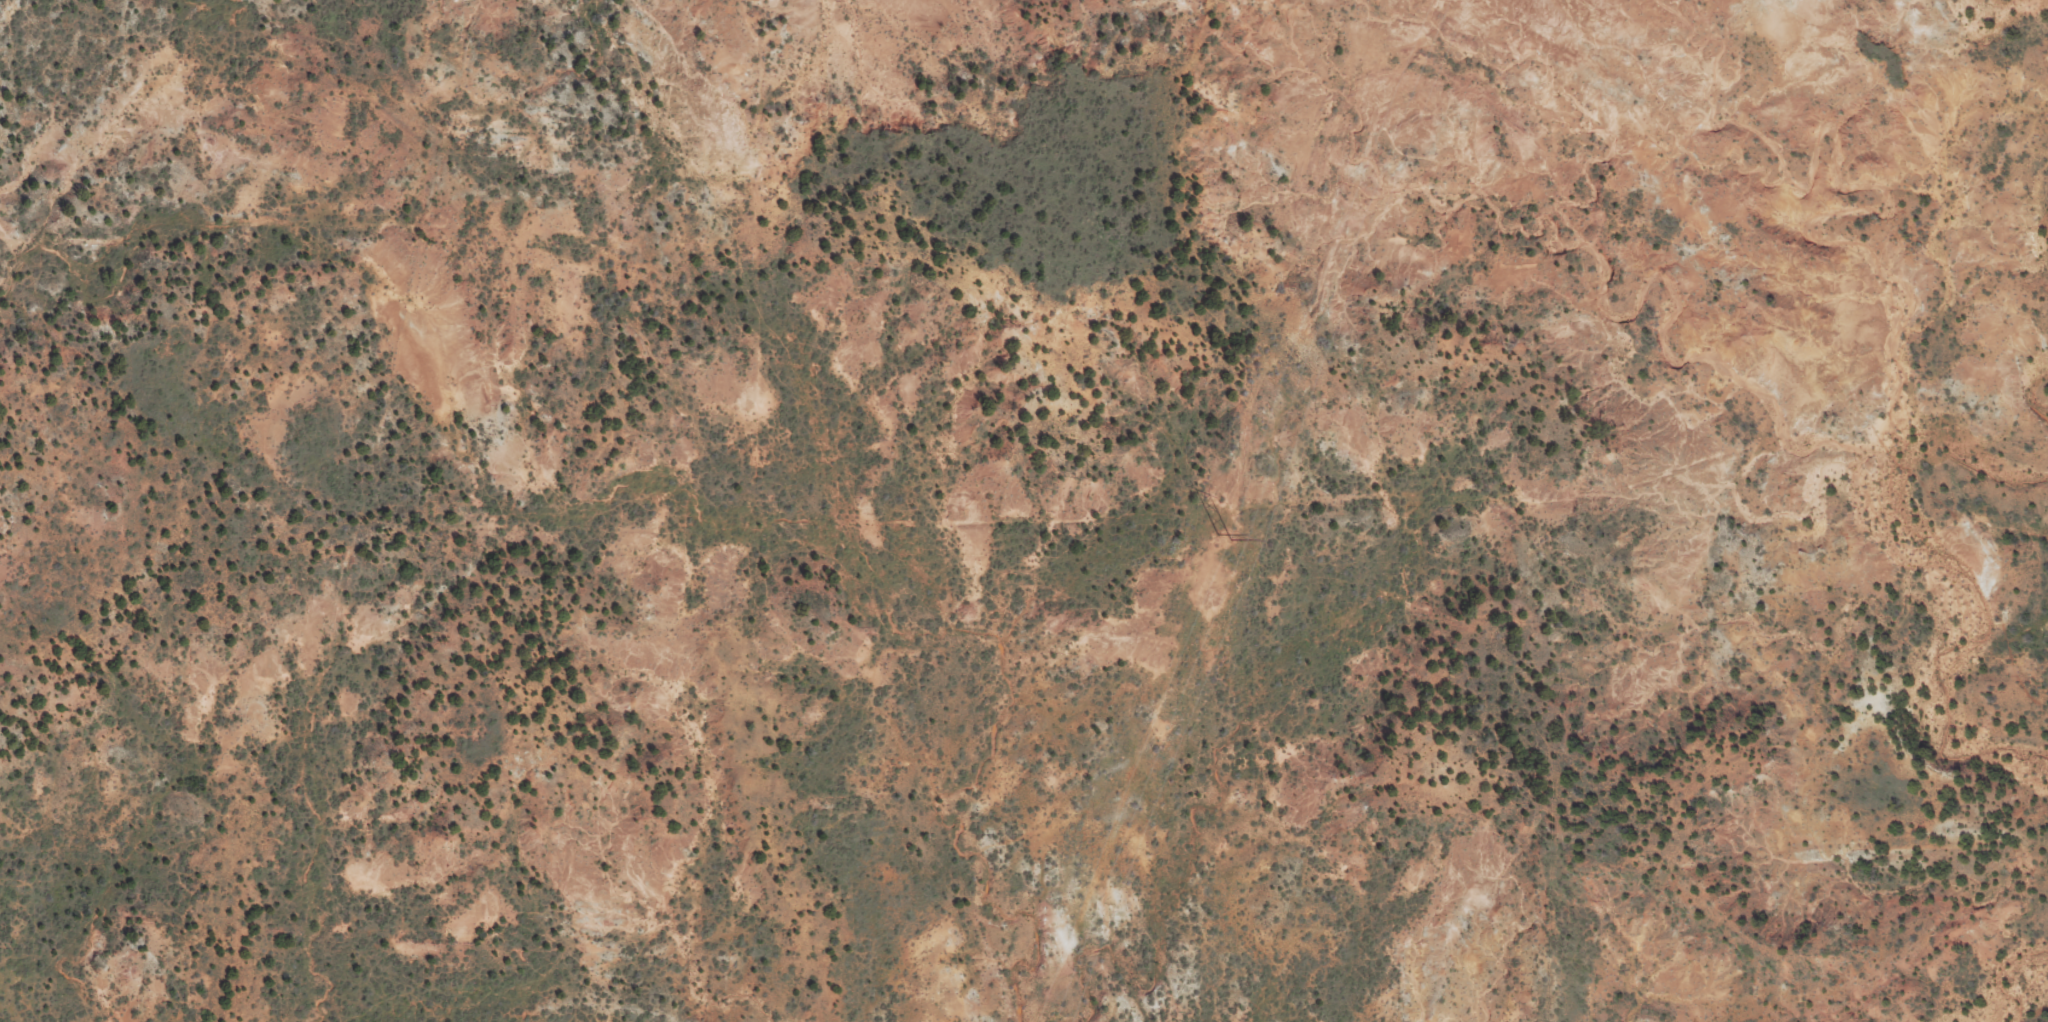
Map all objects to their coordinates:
power tower: (1224, 538)

